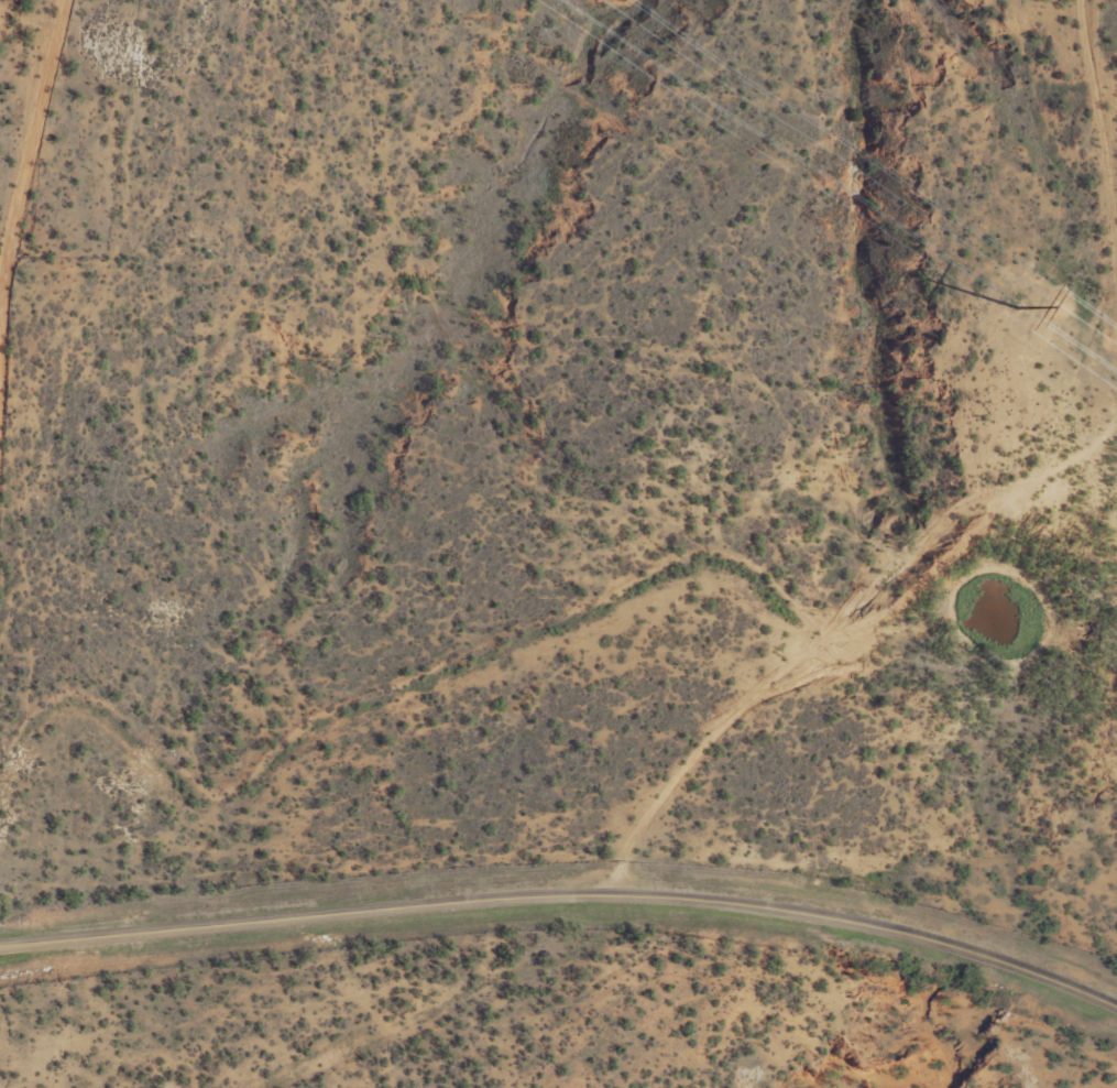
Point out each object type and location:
road: (29, 143)
power tower: (1018, 306)
road: (753, 701)
road: (565, 892)

